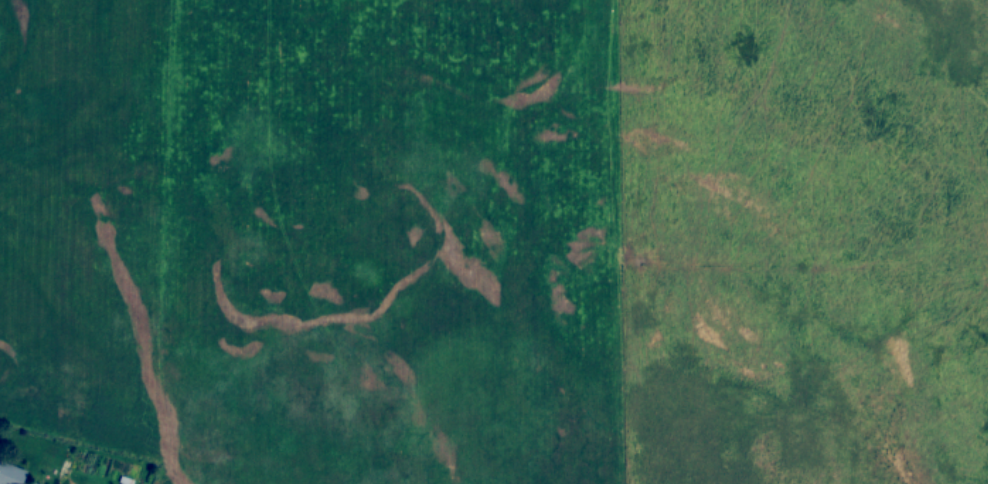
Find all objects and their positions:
building: (11, 474)

